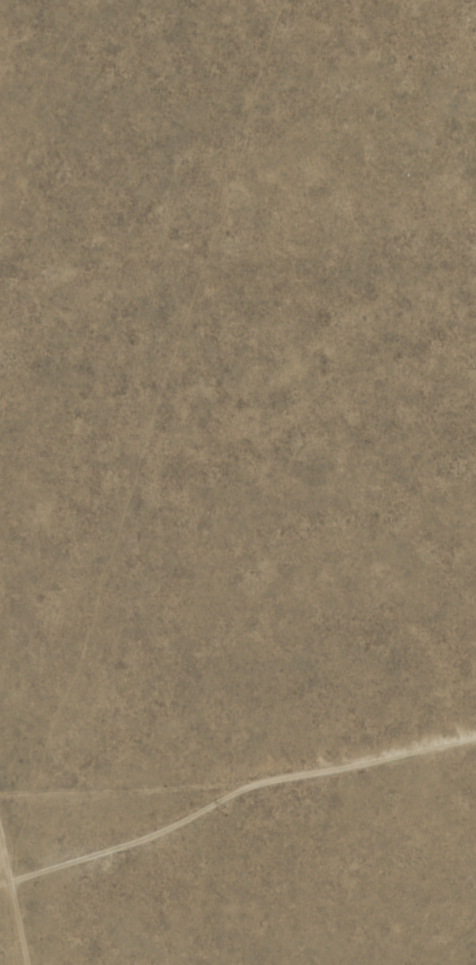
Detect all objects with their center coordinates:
power tower: (226, 810)

